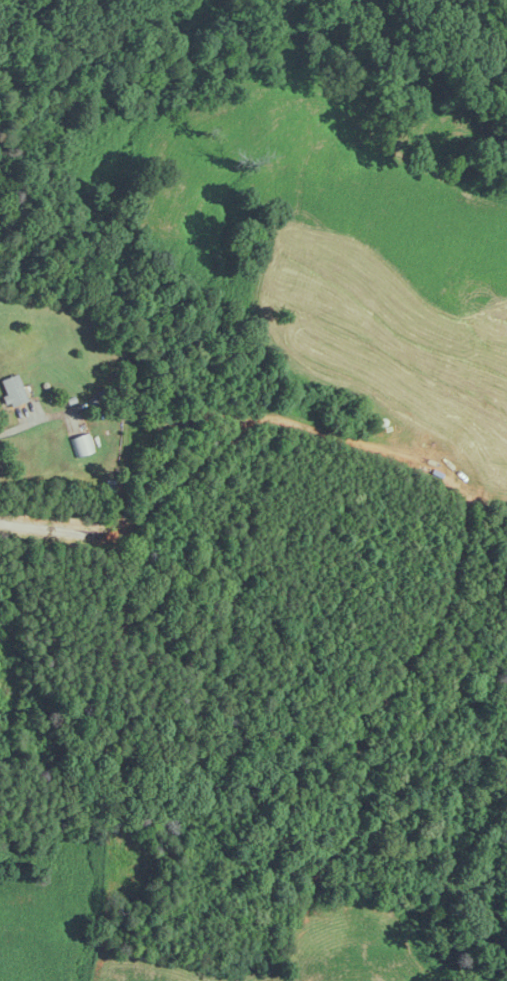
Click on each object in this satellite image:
building: (13, 392)
road: (38, 418)
building: (82, 445)

